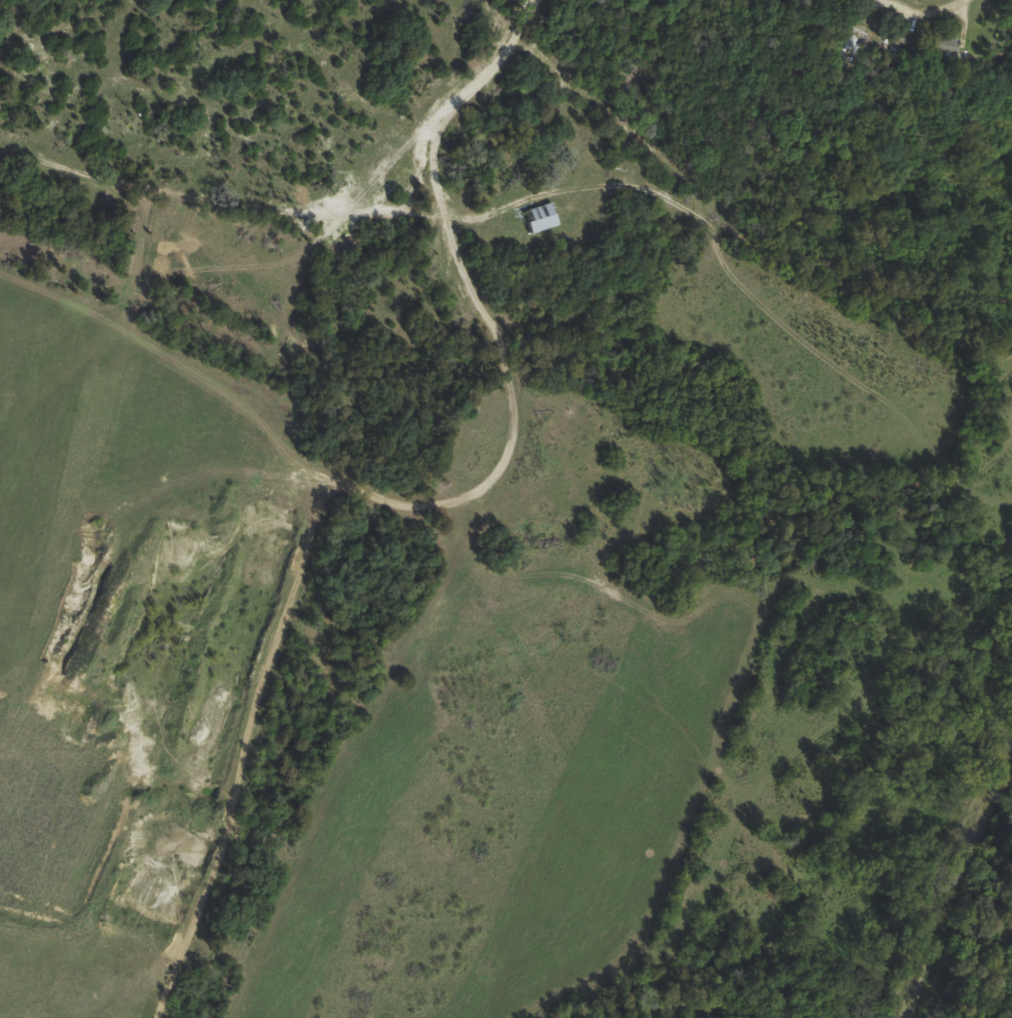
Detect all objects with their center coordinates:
building: (942, 44)
building: (544, 217)

